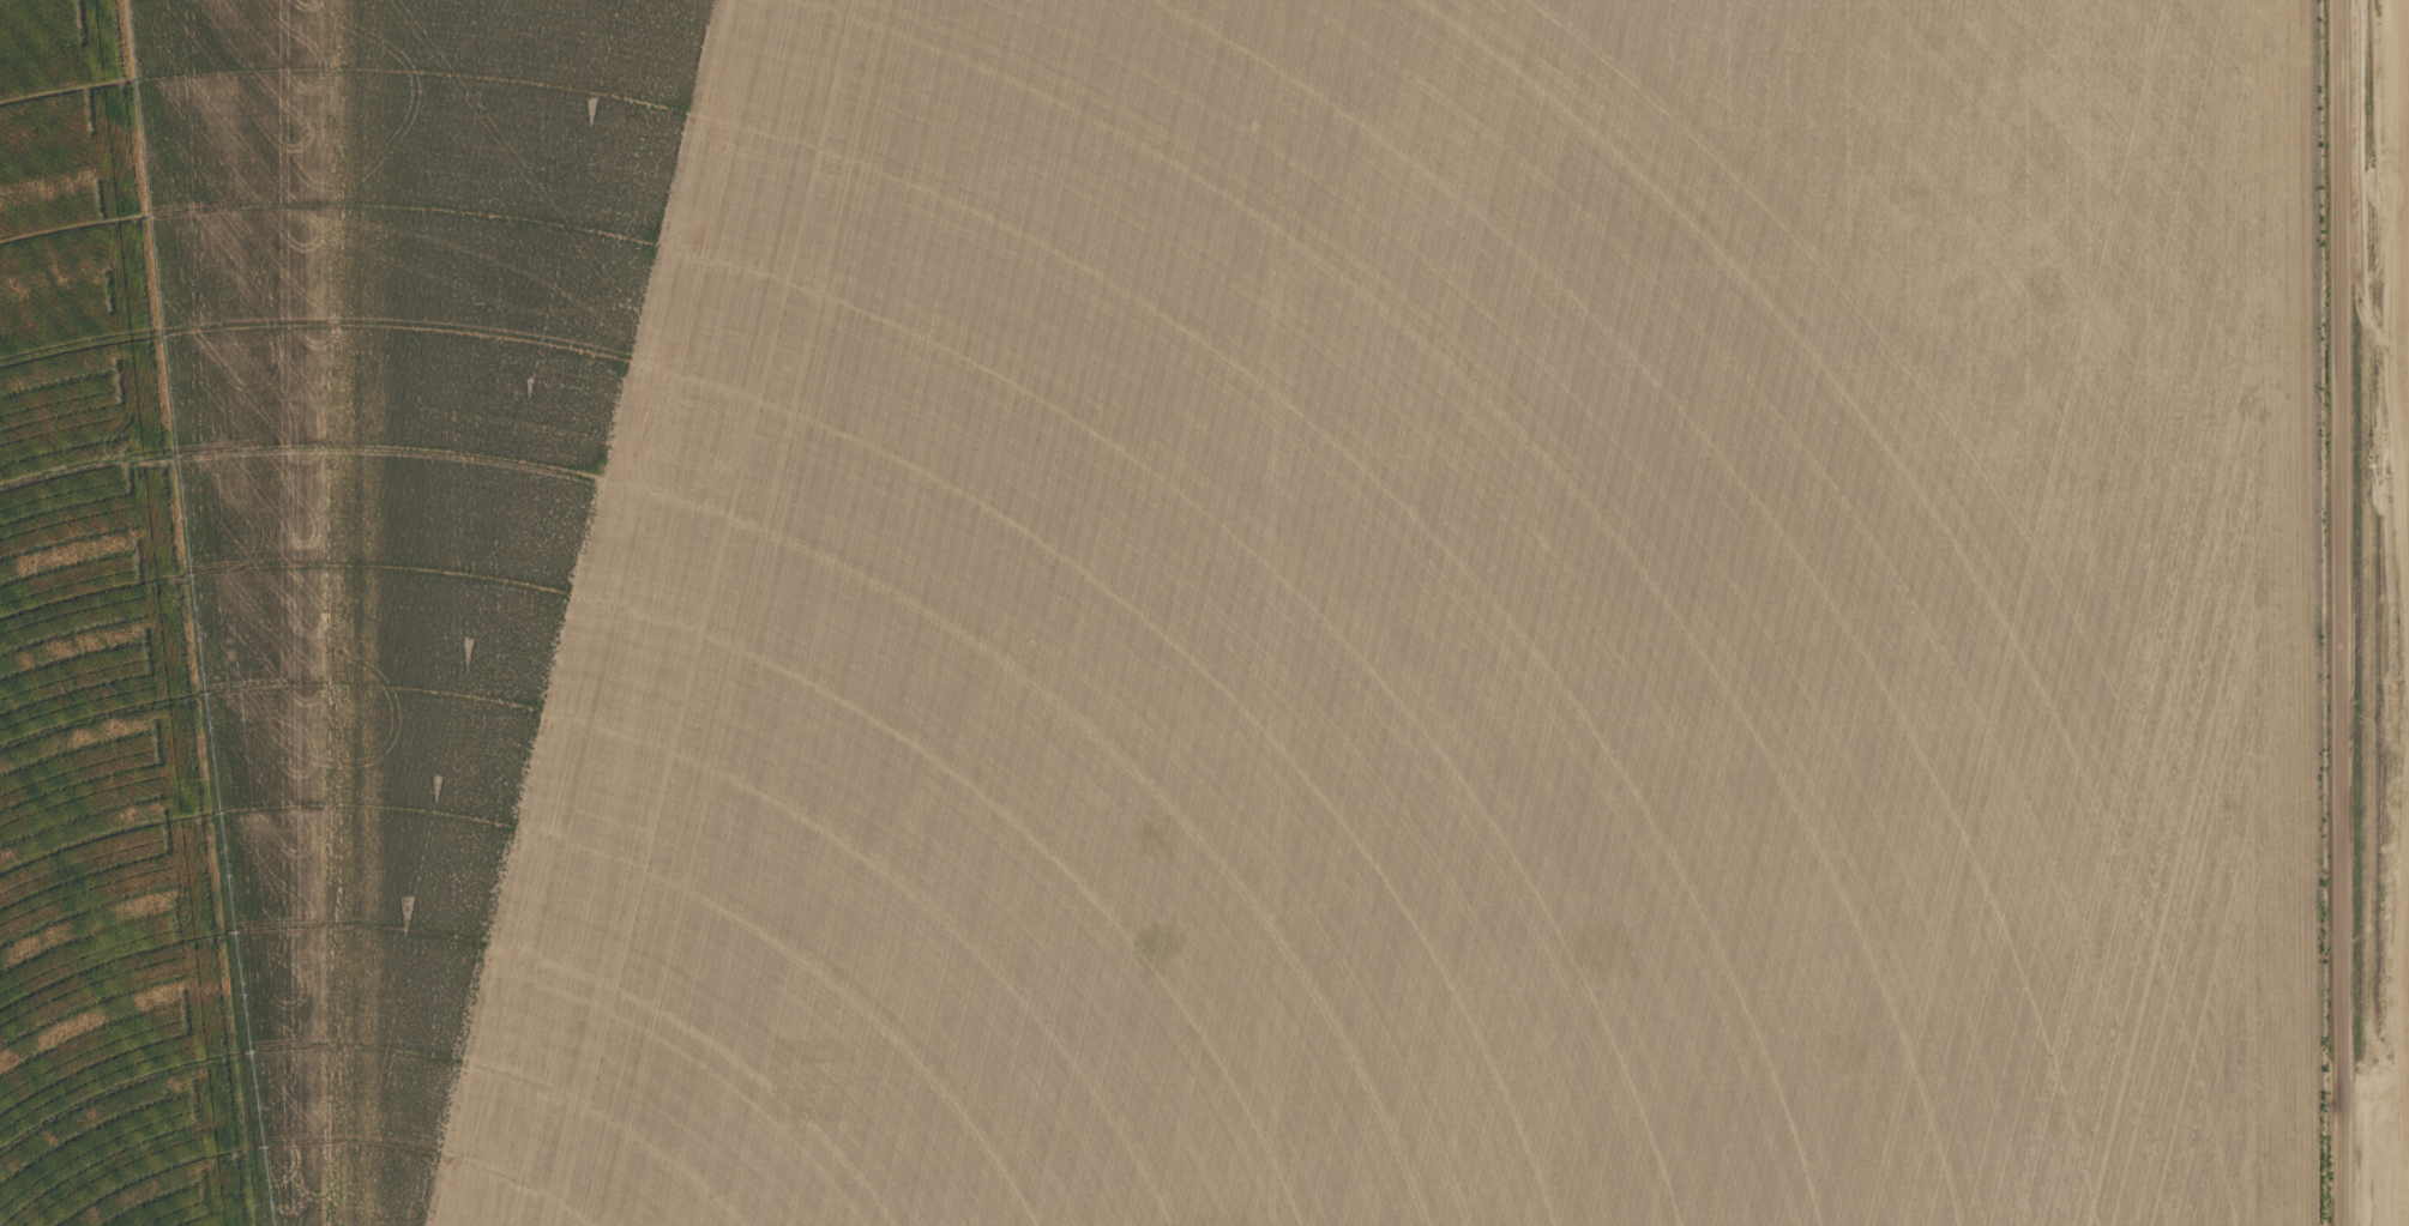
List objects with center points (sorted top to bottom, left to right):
road: (2342, 612)

